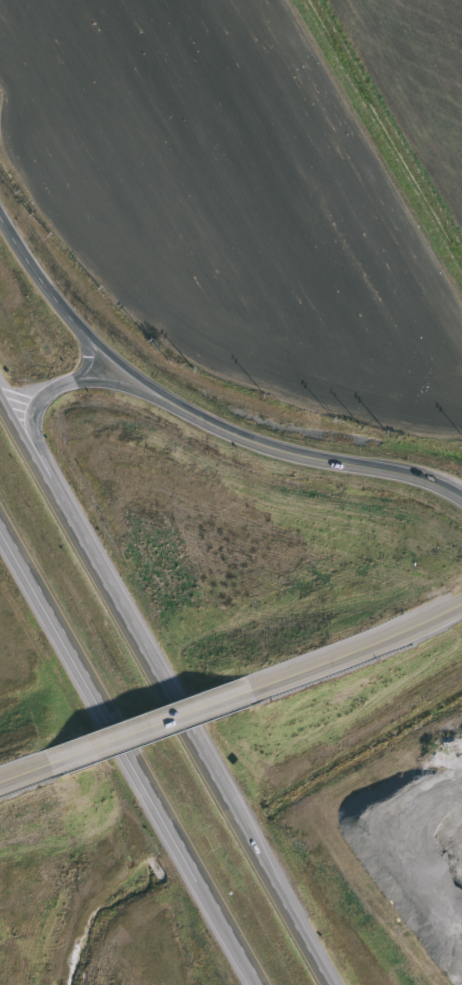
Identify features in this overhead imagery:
road: (76, 323)
road: (87, 362)
road: (126, 386)
road: (44, 453)
road: (319, 456)
road: (358, 654)
road: (166, 690)
road: (152, 734)
road: (131, 754)
road: (26, 781)

